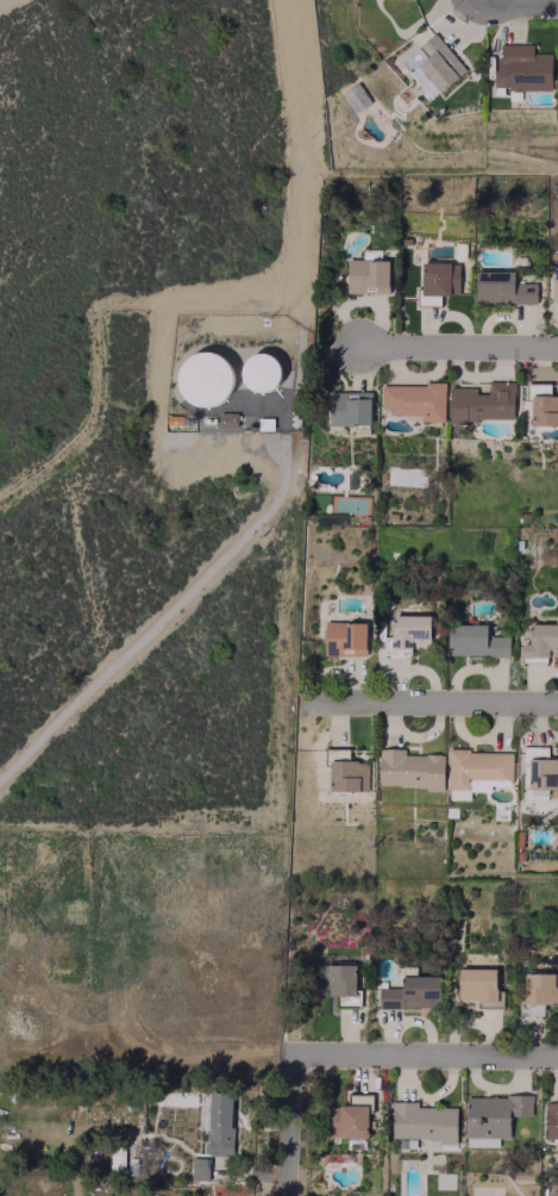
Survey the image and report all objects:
road: (513, 2)
building: (432, 66)
building: (521, 67)
building: (365, 275)
building: (437, 280)
building: (501, 287)
building: (553, 287)
road: (454, 344)
building: (259, 370)
building: (205, 378)
building: (414, 399)
building: (482, 401)
building: (543, 405)
building: (349, 407)
building: (226, 418)
road: (157, 618)
building: (407, 631)
building: (344, 639)
building: (474, 641)
building: (541, 641)
road: (440, 699)
building: (409, 768)
building: (477, 771)
building: (346, 772)
building: (334, 978)
building: (478, 986)
building: (540, 988)
building: (410, 992)
road: (425, 1052)
building: (491, 1116)
building: (350, 1117)
building: (551, 1120)
building: (421, 1121)
building: (218, 1122)
road: (290, 1123)
building: (199, 1167)

